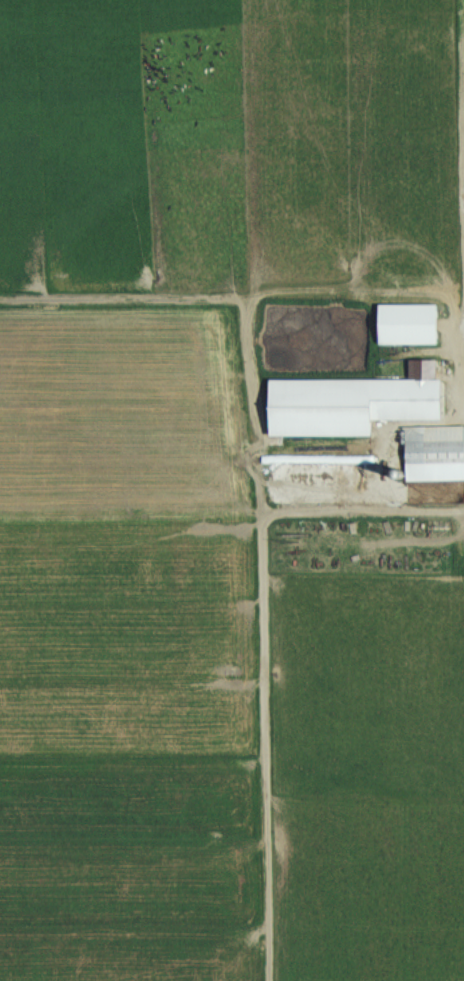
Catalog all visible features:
building: (411, 324)
building: (415, 417)

